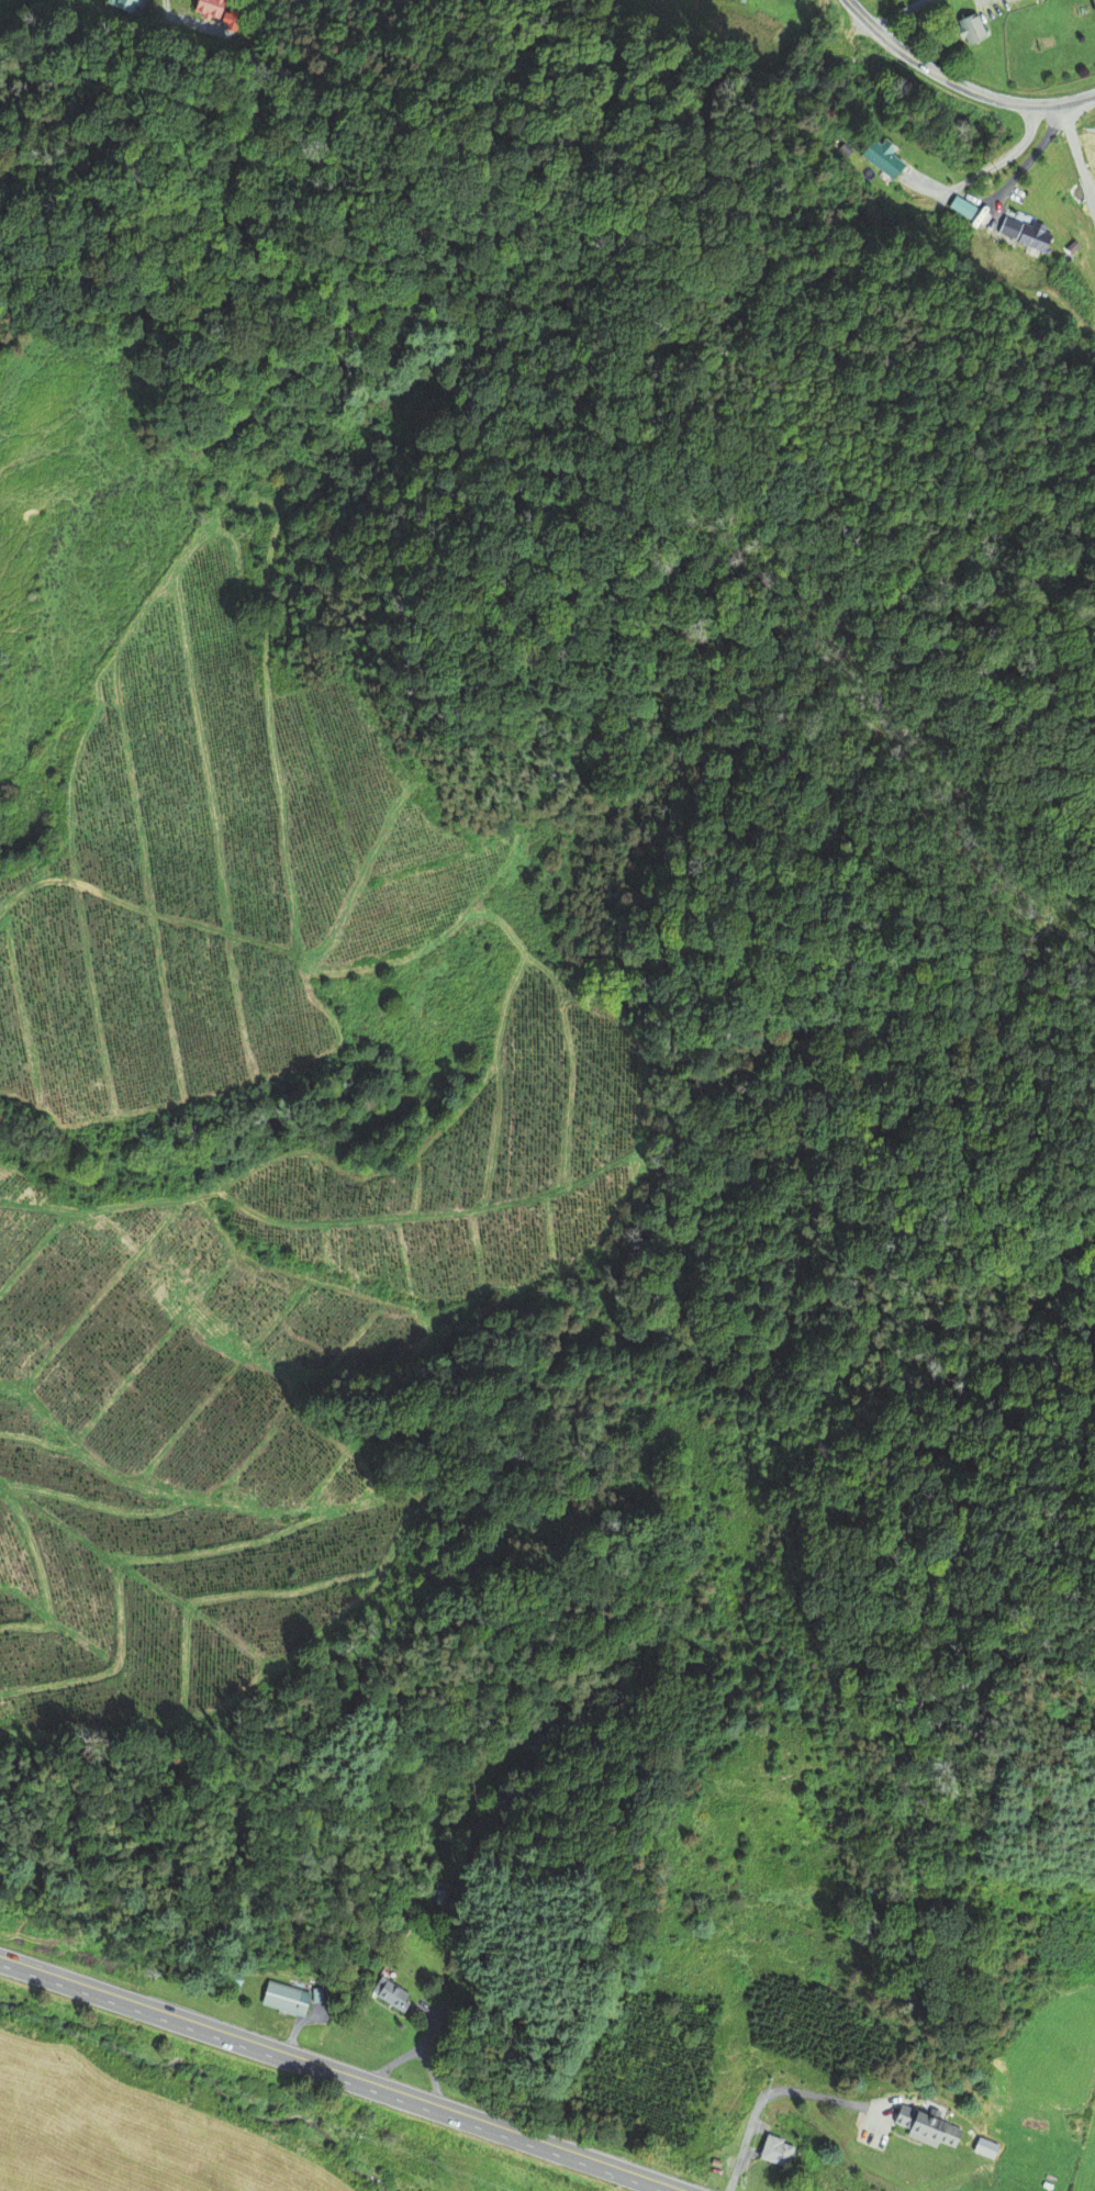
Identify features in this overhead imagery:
building: (123, 4)
building: (1093, 5)
building: (206, 8)
building: (971, 31)
road: (959, 83)
building: (882, 163)
building: (1023, 234)
building: (442, 1894)
building: (388, 1994)
building: (282, 1999)
road: (345, 2071)
road: (769, 2092)
building: (928, 2125)
building: (776, 2149)
building: (715, 2161)

